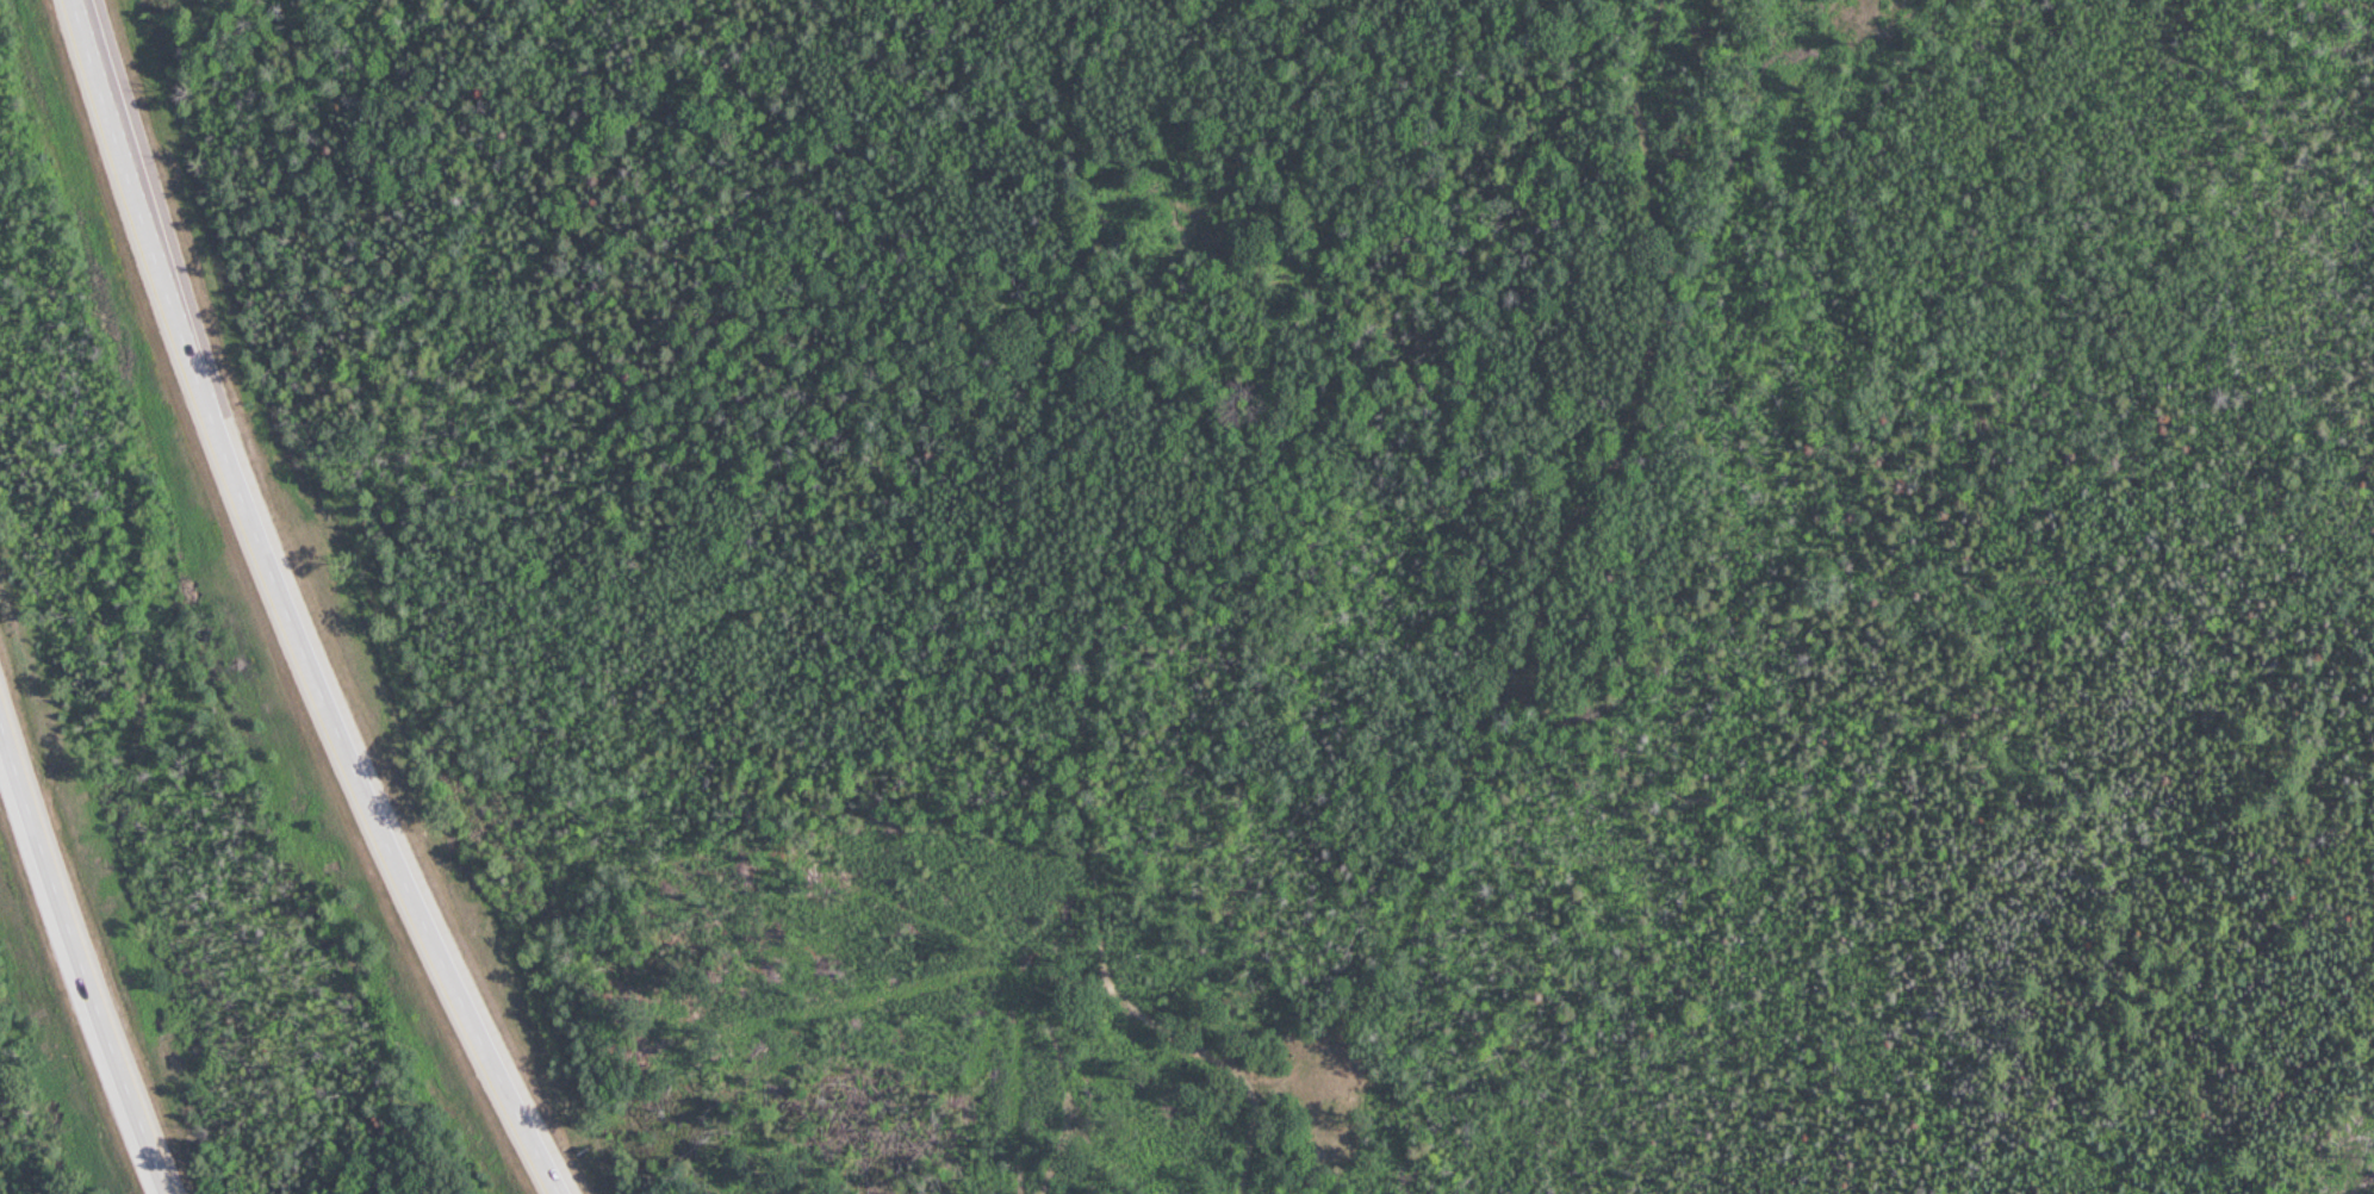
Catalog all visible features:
road: (299, 608)
road: (83, 954)

